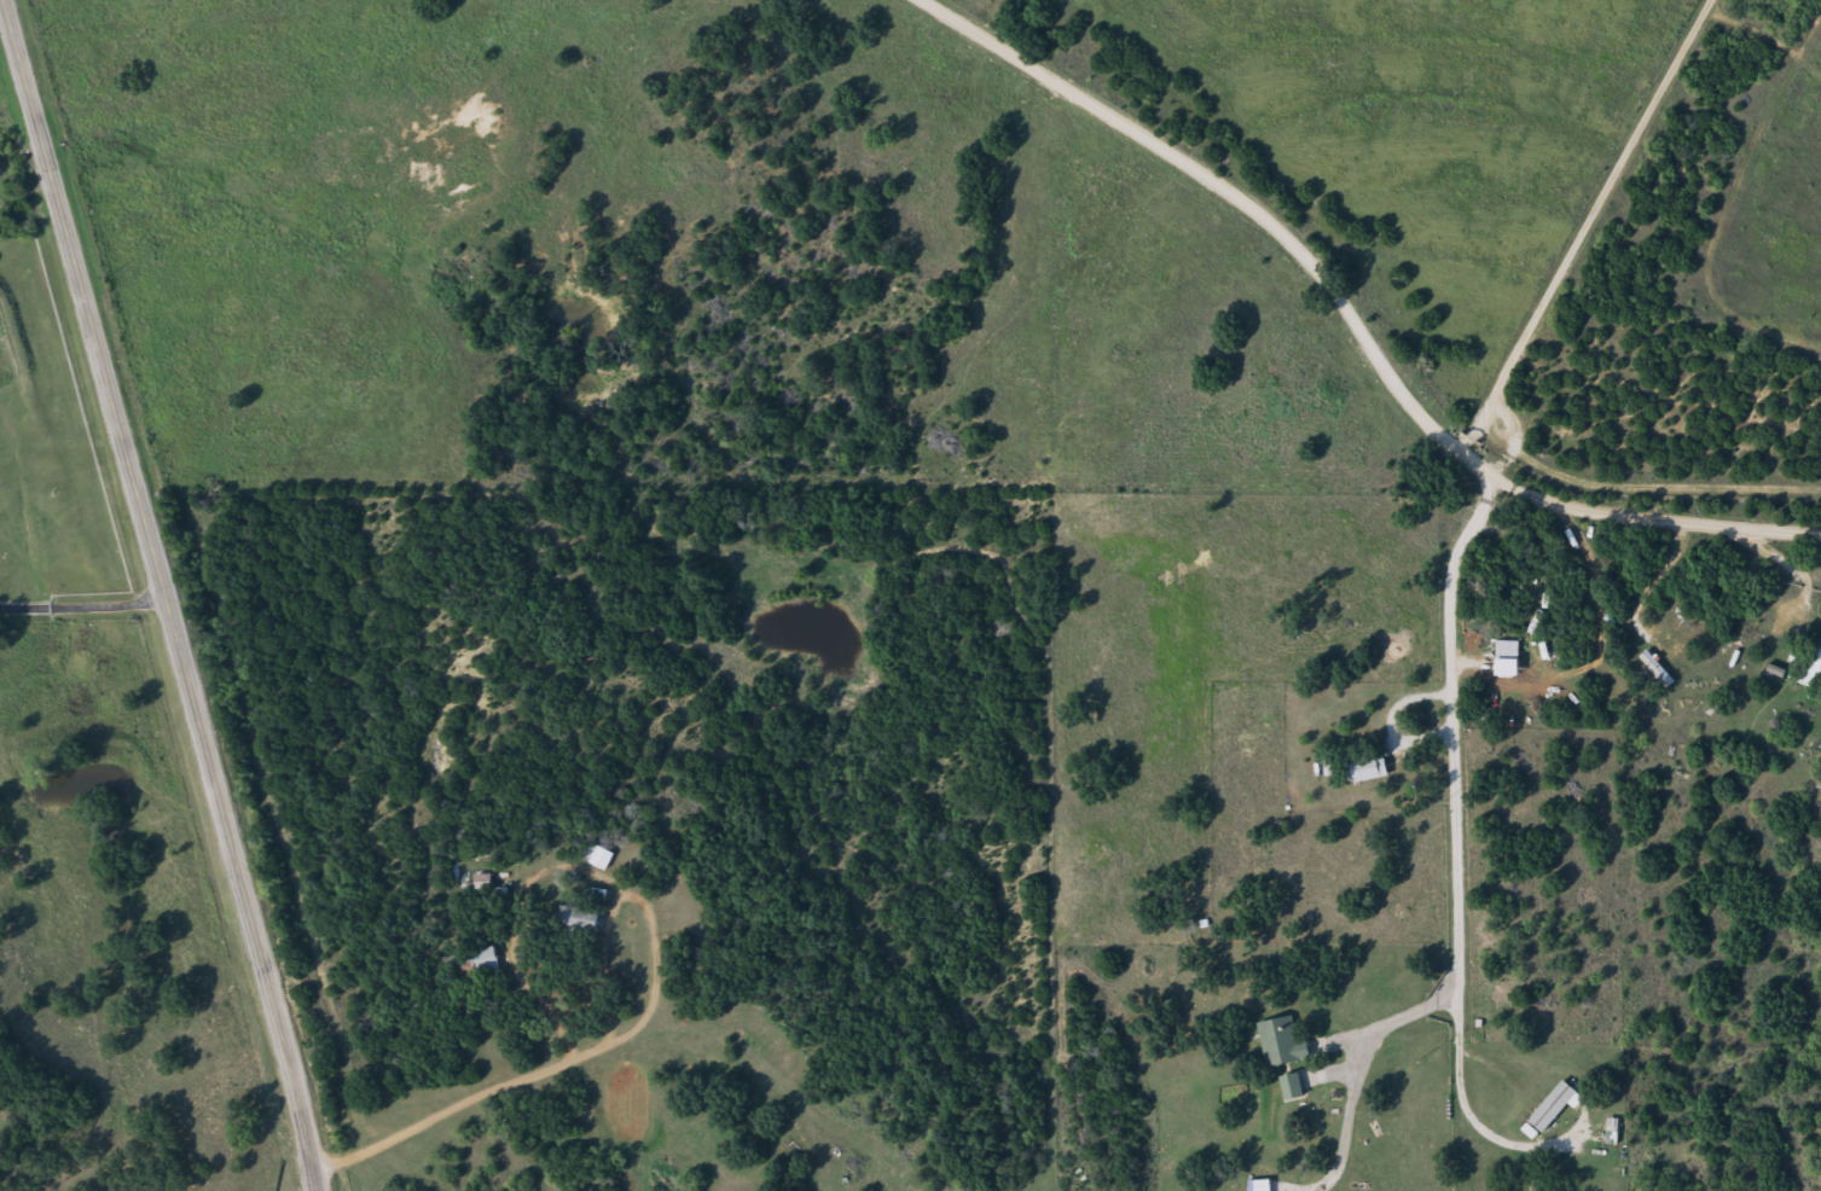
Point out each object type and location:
road: (1489, 43)
road: (1182, 65)
road: (334, 79)
road: (1358, 320)
road: (168, 594)
building: (1542, 606)
building: (1657, 673)
building: (1809, 674)
road: (1489, 684)
building: (1363, 775)
building: (482, 887)
building: (578, 923)
building: (485, 964)
building: (1281, 1047)
building: (1552, 1111)
building: (1260, 1187)

